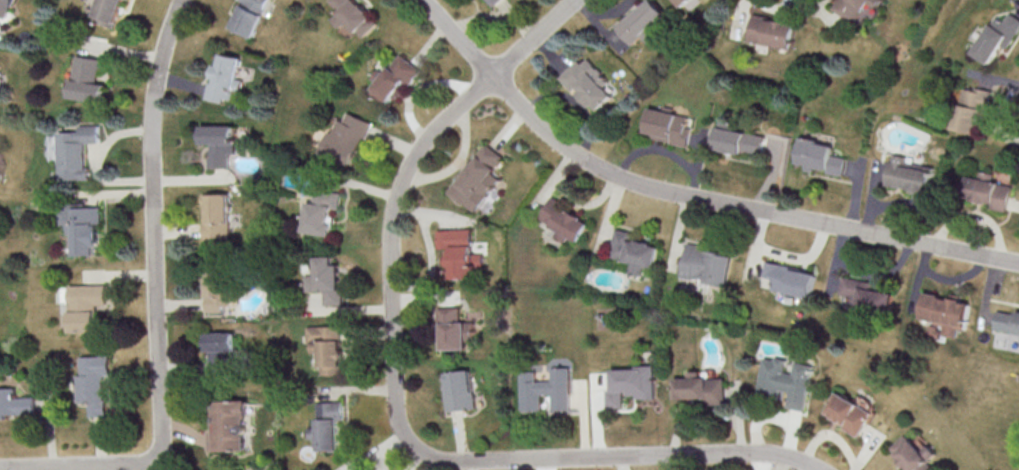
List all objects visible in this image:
road: (1017, 1)
building: (495, 2)
building: (501, 3)
building: (687, 3)
road: (779, 6)
building: (6, 9)
building: (863, 9)
building: (111, 11)
road: (616, 11)
road: (833, 14)
road: (484, 15)
building: (254, 18)
road: (748, 19)
building: (360, 20)
road: (523, 22)
road: (605, 23)
building: (645, 23)
building: (775, 33)
road: (0, 39)
building: (997, 40)
road: (435, 44)
road: (130, 50)
road: (556, 53)
road: (993, 78)
road: (185, 81)
building: (230, 81)
building: (399, 81)
building: (92, 83)
building: (590, 89)
road: (423, 90)
building: (976, 113)
building: (672, 128)
road: (510, 130)
road: (701, 140)
building: (352, 141)
road: (401, 143)
building: (744, 144)
building: (223, 146)
road: (779, 147)
road: (659, 149)
building: (83, 156)
building: (824, 158)
road: (101, 159)
road: (704, 161)
road: (461, 163)
road: (859, 168)
road: (887, 171)
road: (783, 176)
building: (912, 176)
road: (196, 177)
road: (554, 180)
building: (482, 182)
road: (370, 186)
building: (994, 189)
road: (118, 193)
road: (688, 194)
road: (861, 195)
road: (876, 196)
road: (588, 200)
road: (1017, 203)
road: (919, 204)
road: (433, 212)
building: (329, 213)
road: (612, 214)
road: (983, 215)
building: (222, 219)
building: (566, 220)
building: (90, 228)
road: (179, 230)
road: (155, 232)
road: (683, 234)
road: (760, 250)
building: (637, 251)
building: (466, 256)
road: (806, 256)
road: (841, 263)
building: (711, 266)
road: (433, 270)
road: (883, 273)
road: (123, 274)
road: (925, 277)
road: (961, 278)
building: (331, 282)
building: (796, 283)
building: (223, 290)
road: (992, 291)
building: (871, 295)
road: (182, 303)
building: (92, 307)
road: (351, 309)
road: (994, 314)
building: (948, 315)
building: (1009, 322)
building: (458, 330)
building: (332, 349)
building: (225, 351)
road: (184, 365)
building: (791, 382)
building: (96, 386)
building: (636, 386)
road: (359, 389)
building: (545, 391)
road: (395, 392)
building: (462, 392)
building: (707, 393)
building: (17, 404)
building: (854, 415)
road: (762, 416)
road: (587, 419)
road: (603, 419)
road: (697, 419)
road: (741, 420)
building: (329, 426)
building: (238, 431)
road: (53, 433)
road: (183, 433)
road: (833, 434)
road: (464, 436)
road: (794, 437)
road: (102, 445)
road: (385, 448)
road: (873, 448)
building: (921, 453)
road: (420, 460)
road: (628, 463)
road: (676, 463)
road: (766, 463)
road: (555, 464)
road: (477, 465)
road: (544, 465)
road: (783, 465)
road: (80, 467)
road: (81, 468)
road: (141, 468)
road: (0, 469)
road: (46, 469)

